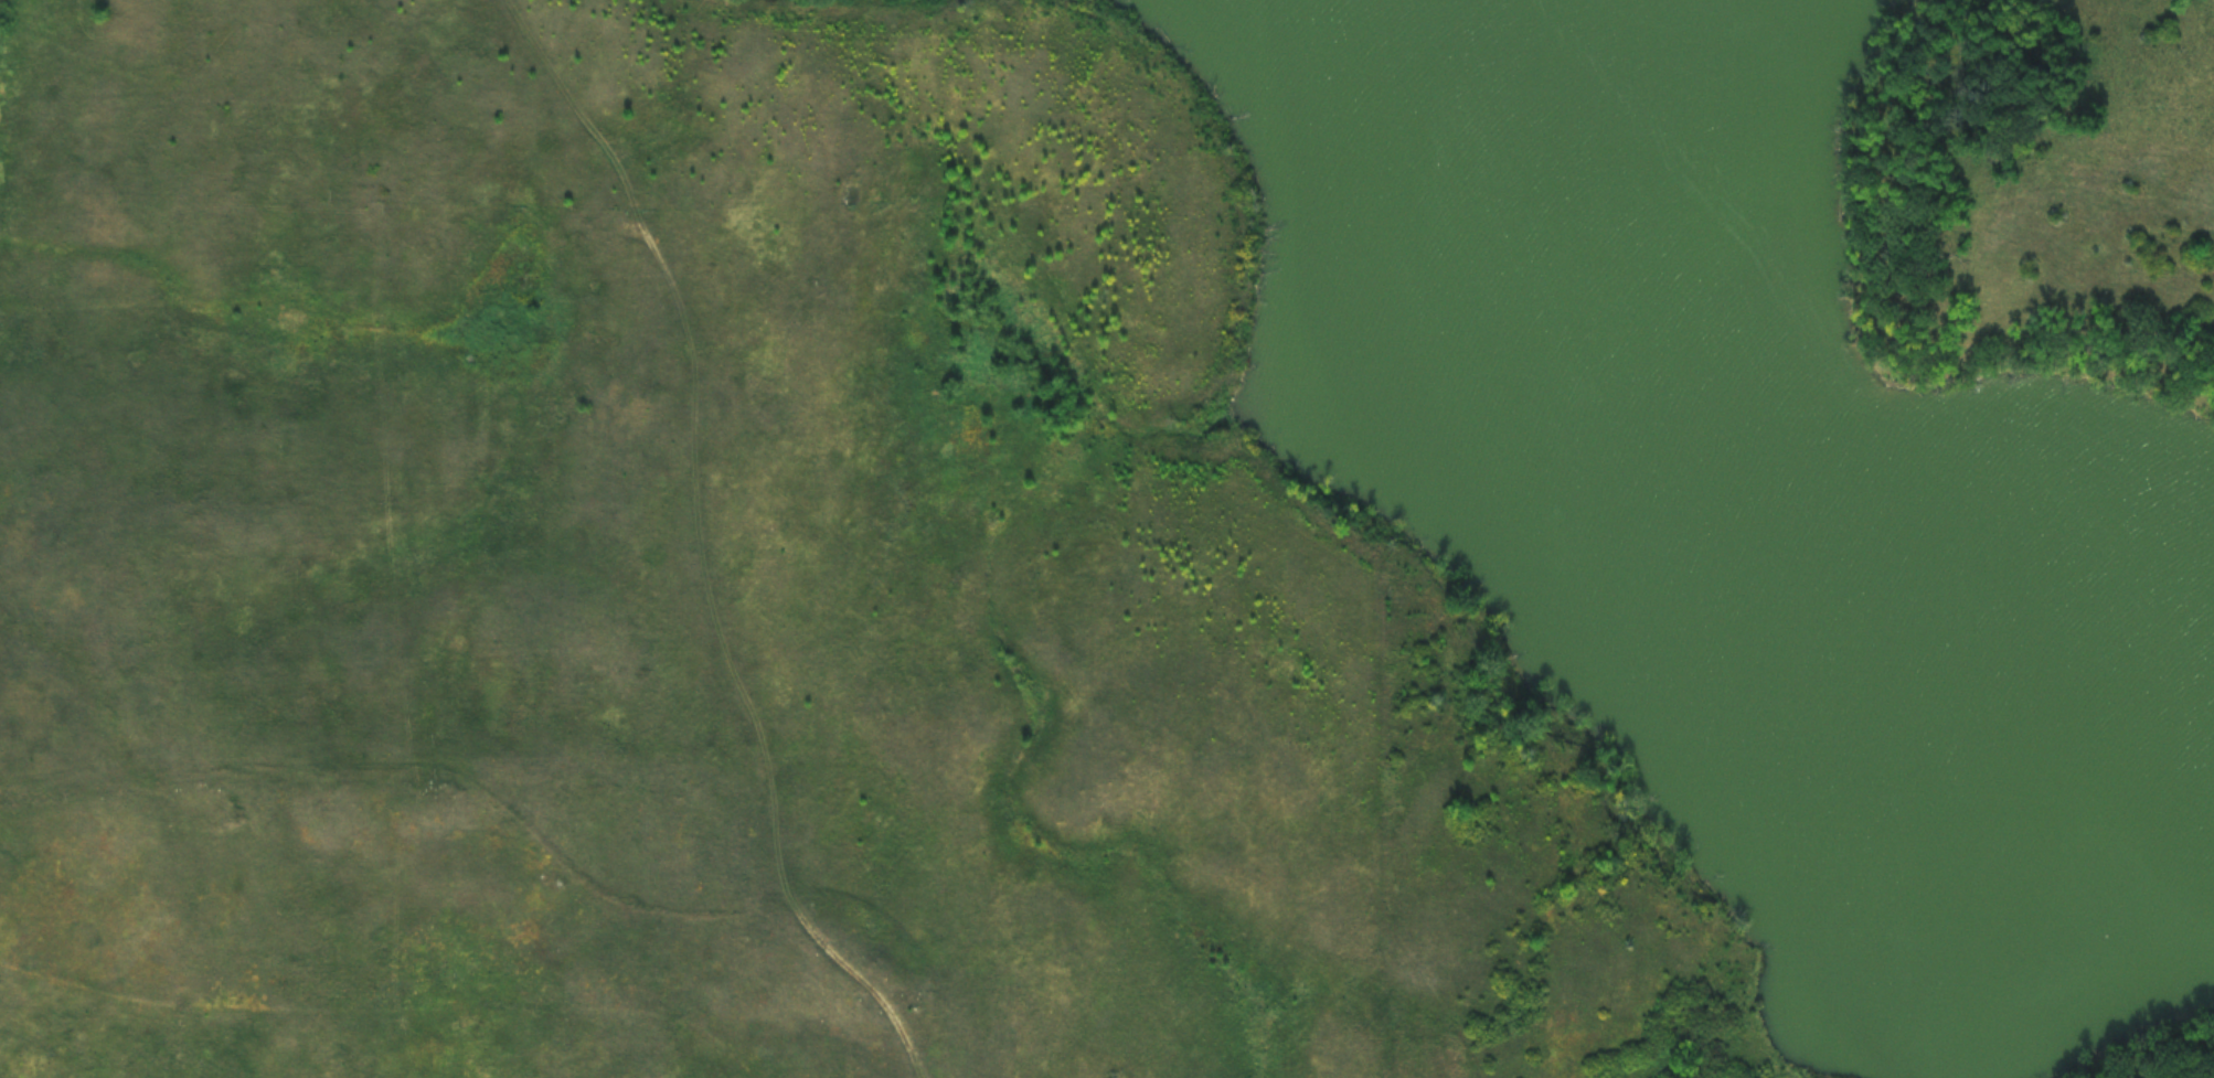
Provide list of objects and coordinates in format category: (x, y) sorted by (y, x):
road: (698, 544)

